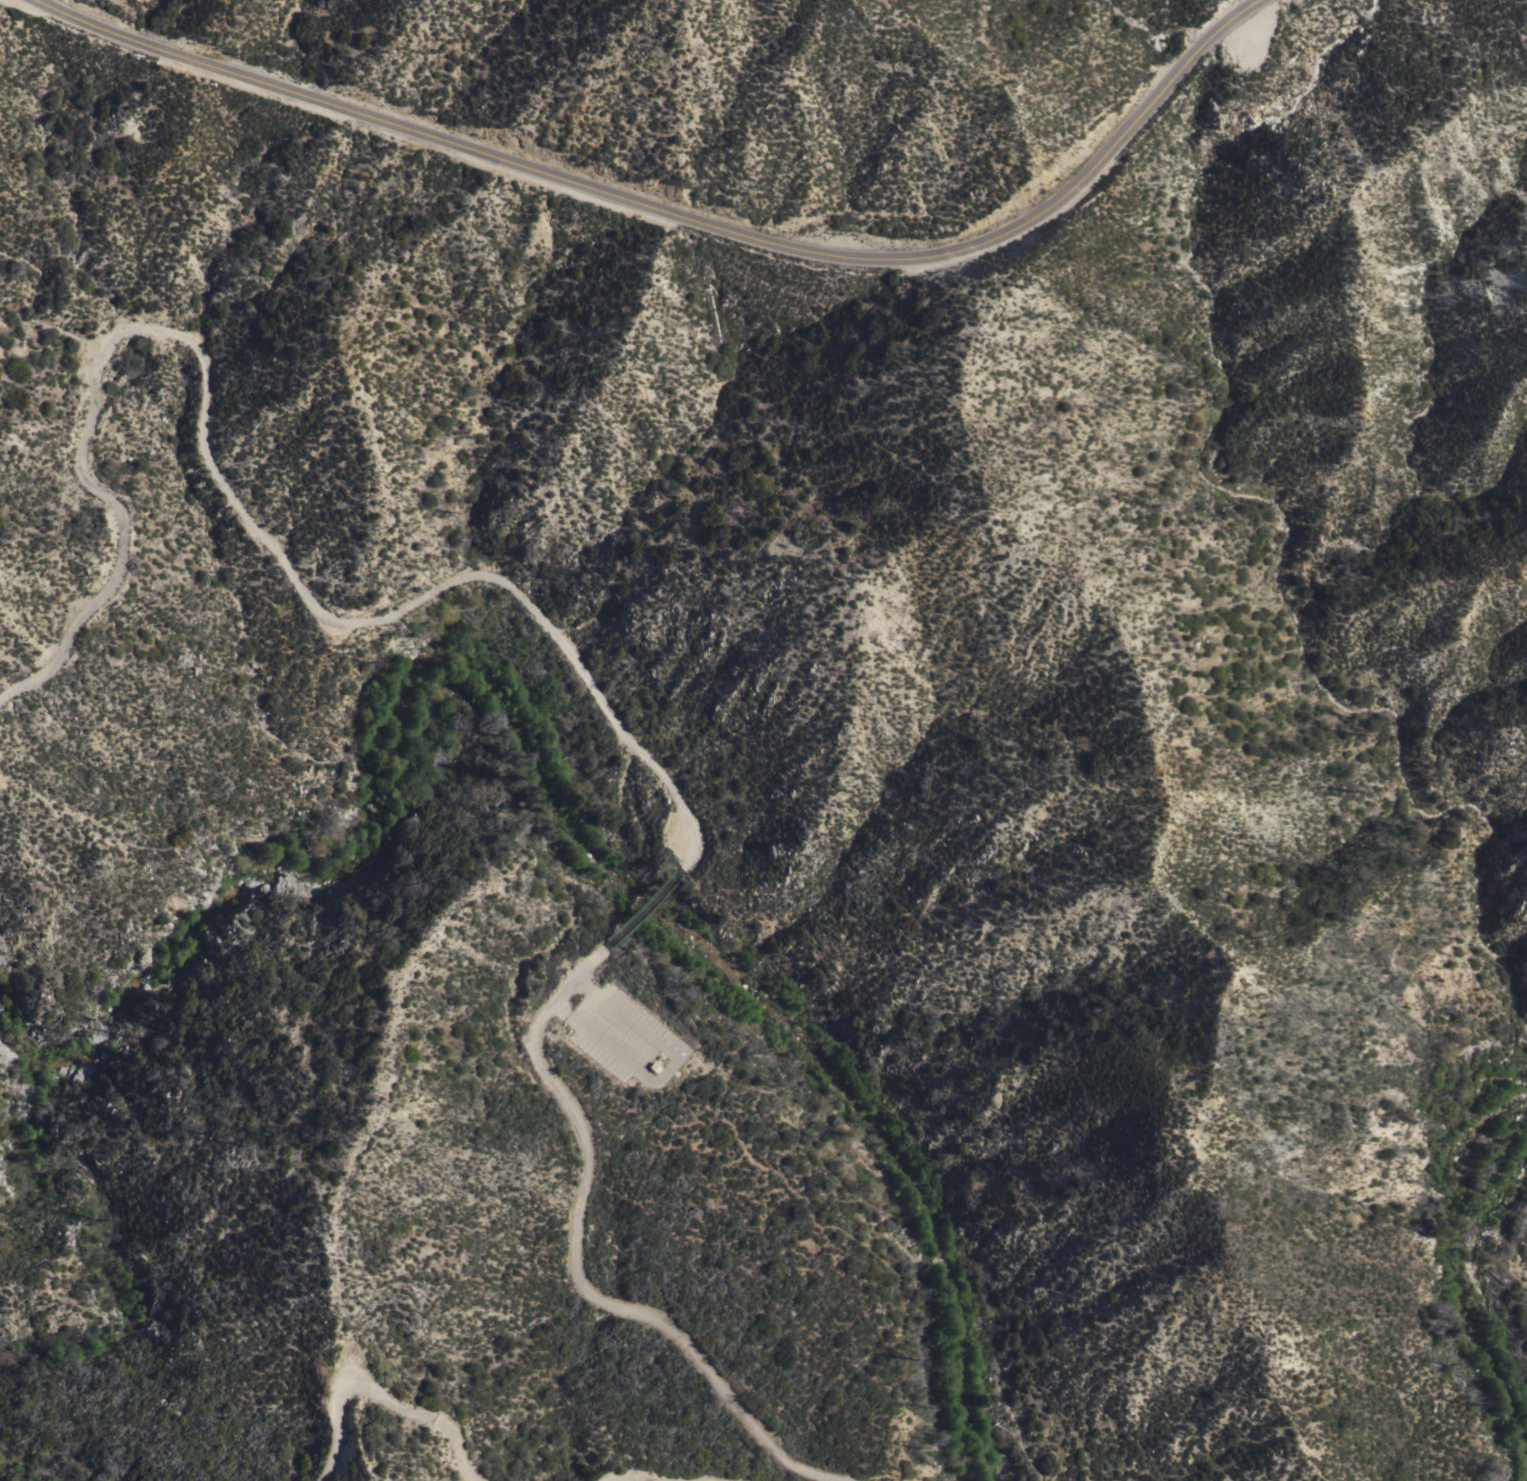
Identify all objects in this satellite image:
road: (683, 217)
road: (230, 493)
road: (680, 790)
river: (569, 800)
road: (679, 863)
road: (636, 906)
parking lot: (630, 1036)
road: (663, 1068)
road: (855, 1232)
road: (576, 1265)
river: (1463, 1283)
road: (356, 1381)
road: (465, 1463)
road: (668, 1478)

